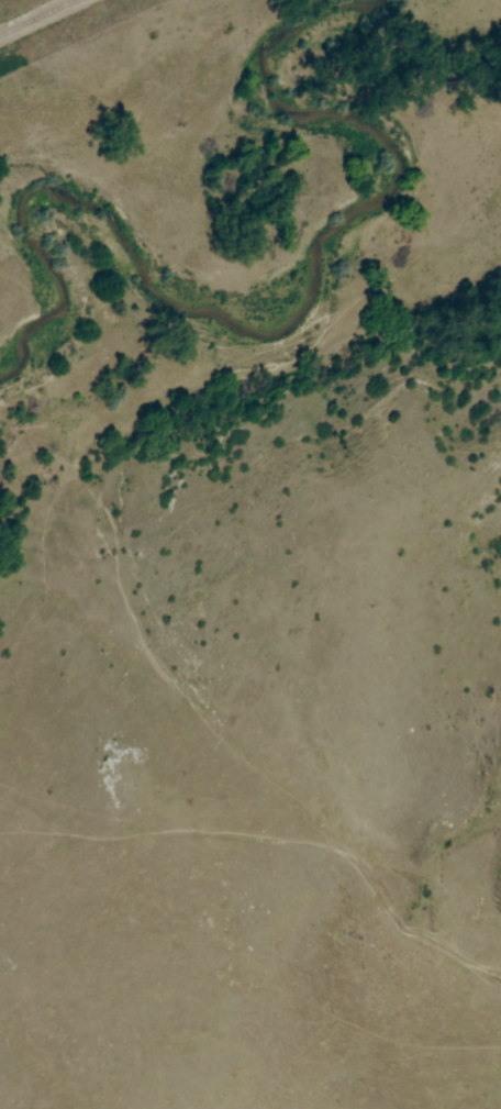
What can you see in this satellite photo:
railway: (37, 16)

